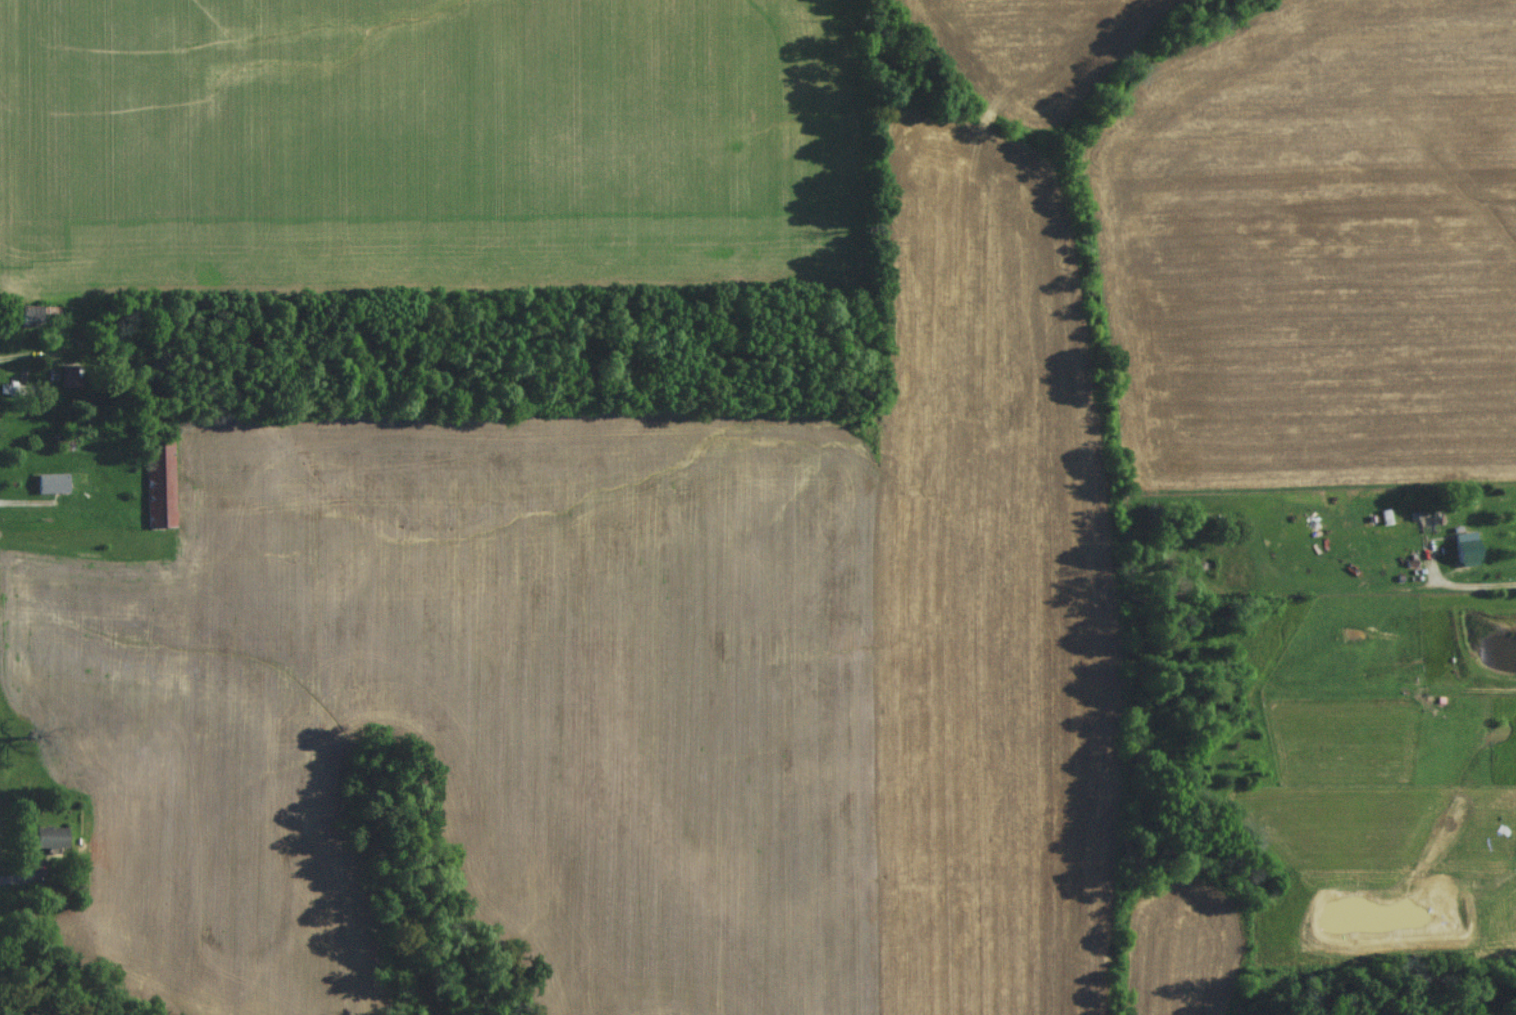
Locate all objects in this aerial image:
building: (38, 320)
building: (65, 380)
building: (28, 395)
building: (157, 483)
building: (48, 488)
building: (1461, 557)
building: (1365, 564)
road: (1489, 587)
building: (46, 842)

